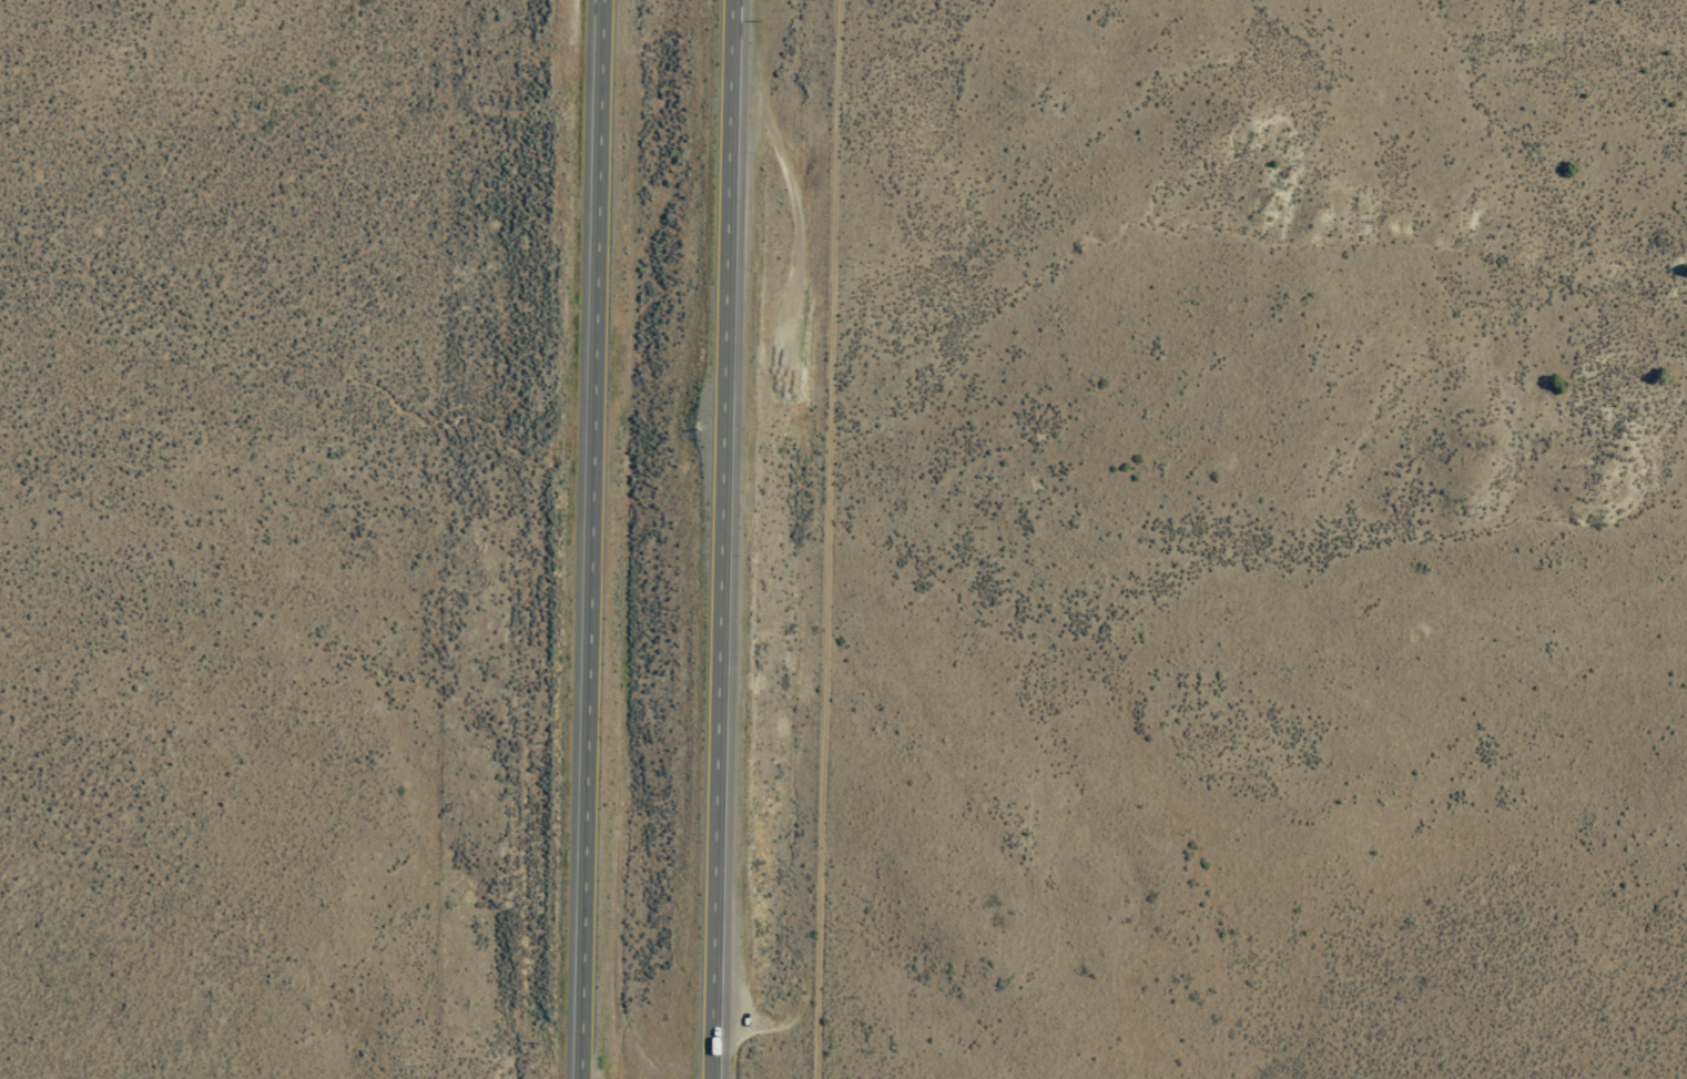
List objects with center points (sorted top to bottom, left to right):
crop: (380, 353)
road: (591, 539)
road: (718, 539)
road: (827, 539)

